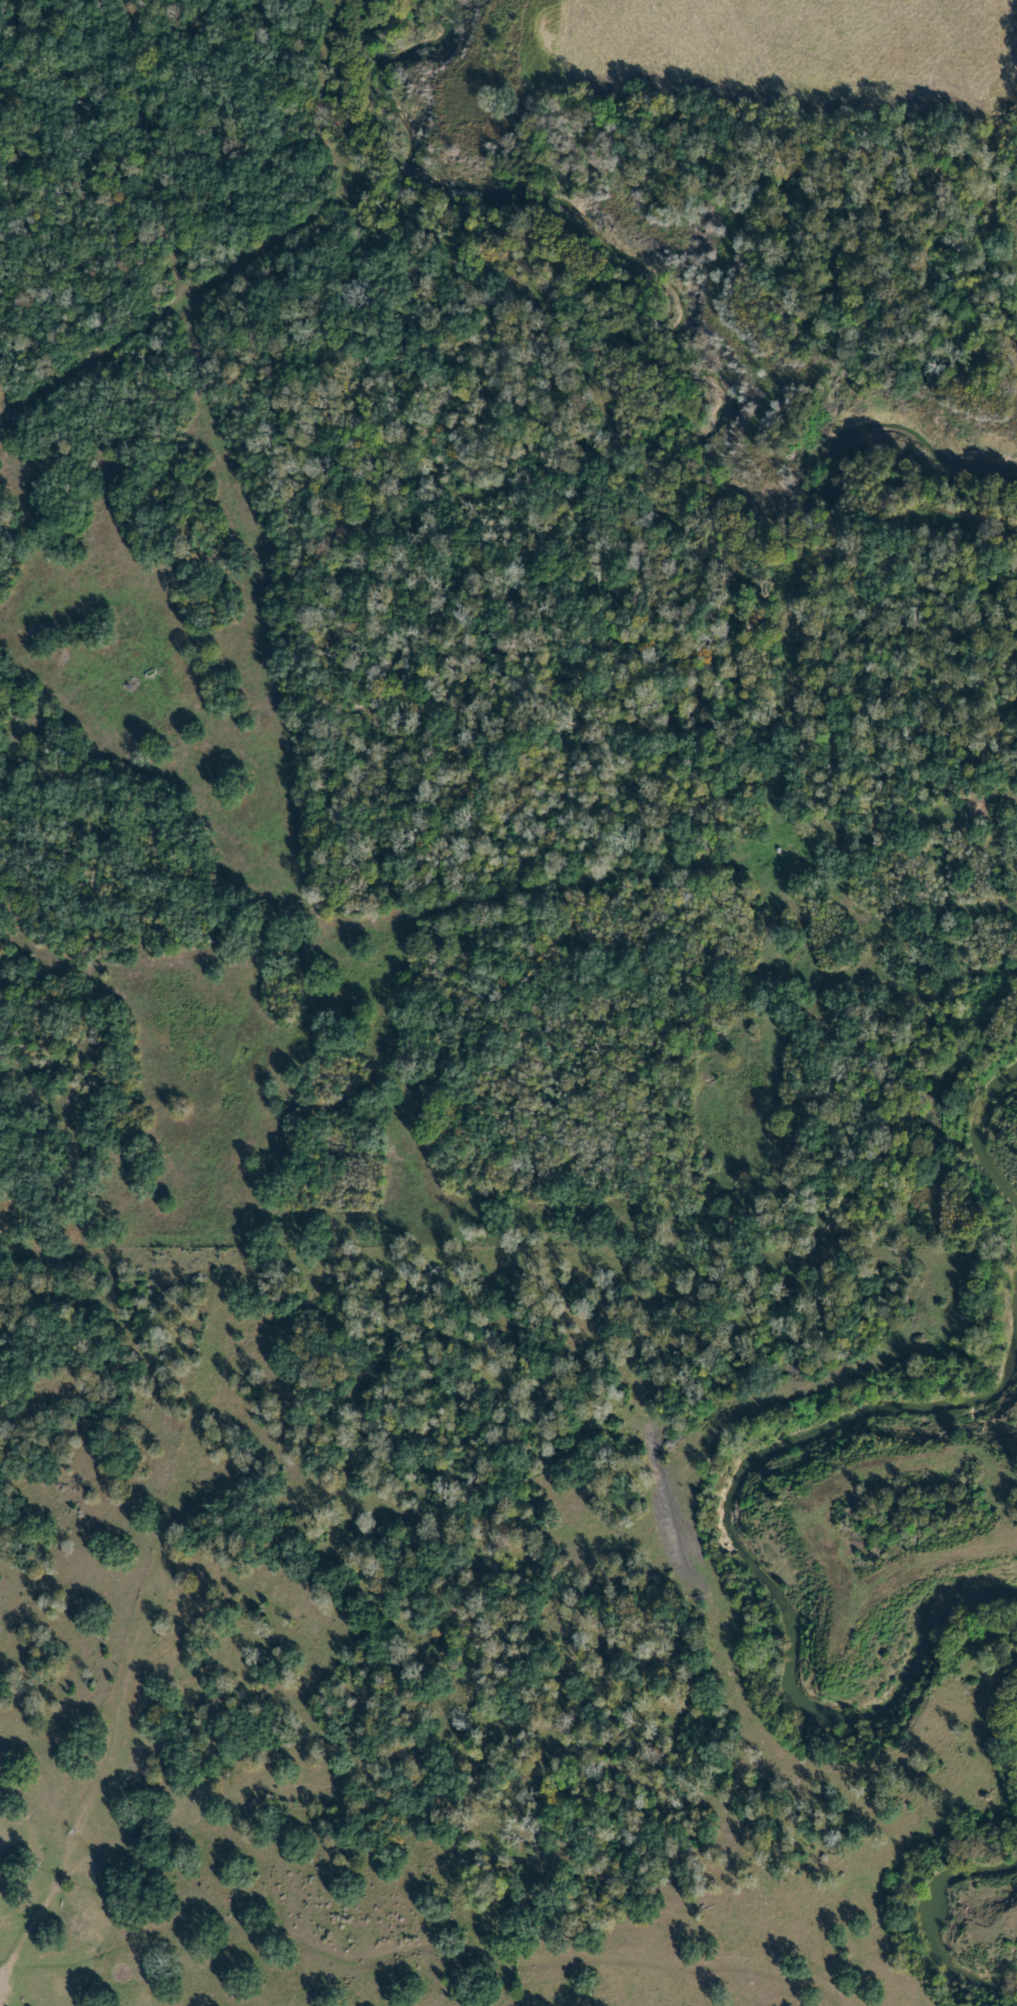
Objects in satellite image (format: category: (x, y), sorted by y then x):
river: (980, 1154)
river: (738, 1555)
river: (920, 1948)

